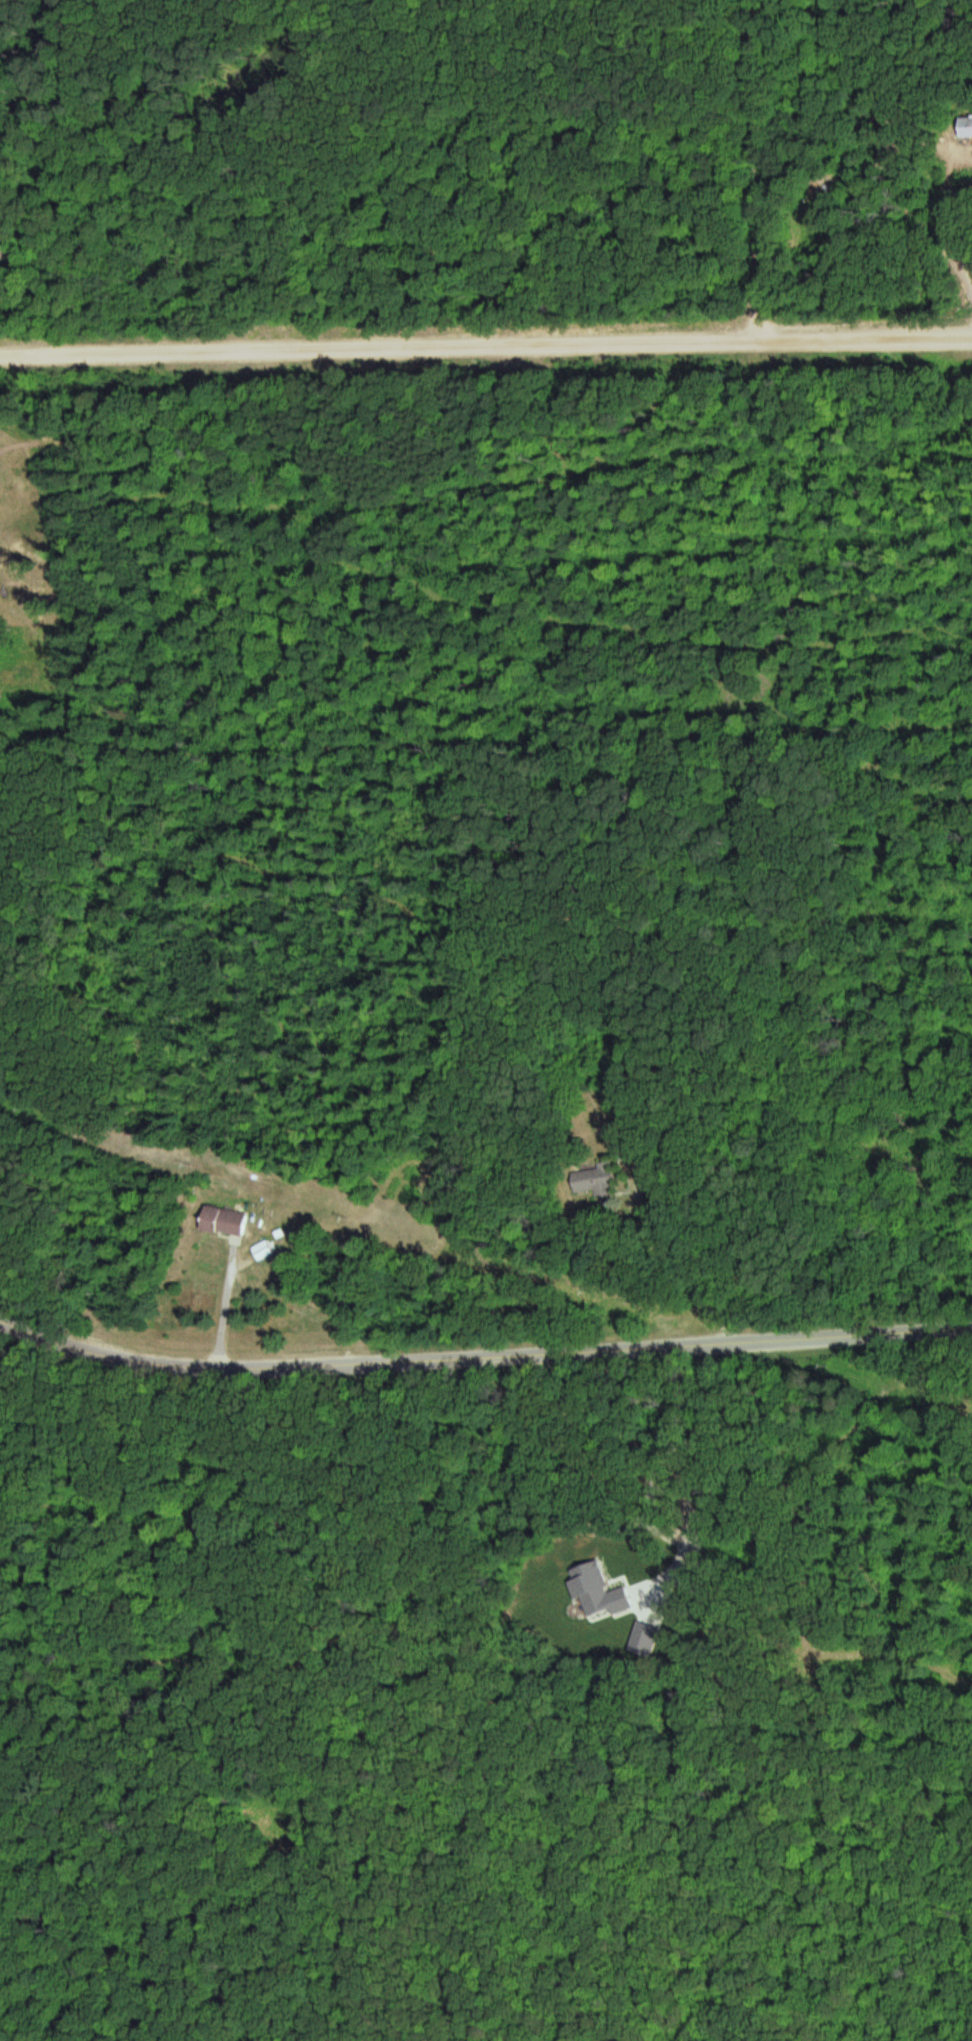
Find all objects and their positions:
building: (966, 127)
road: (767, 167)
building: (0, 245)
road: (485, 344)
building: (593, 1180)
building: (225, 1222)
road: (482, 1356)

